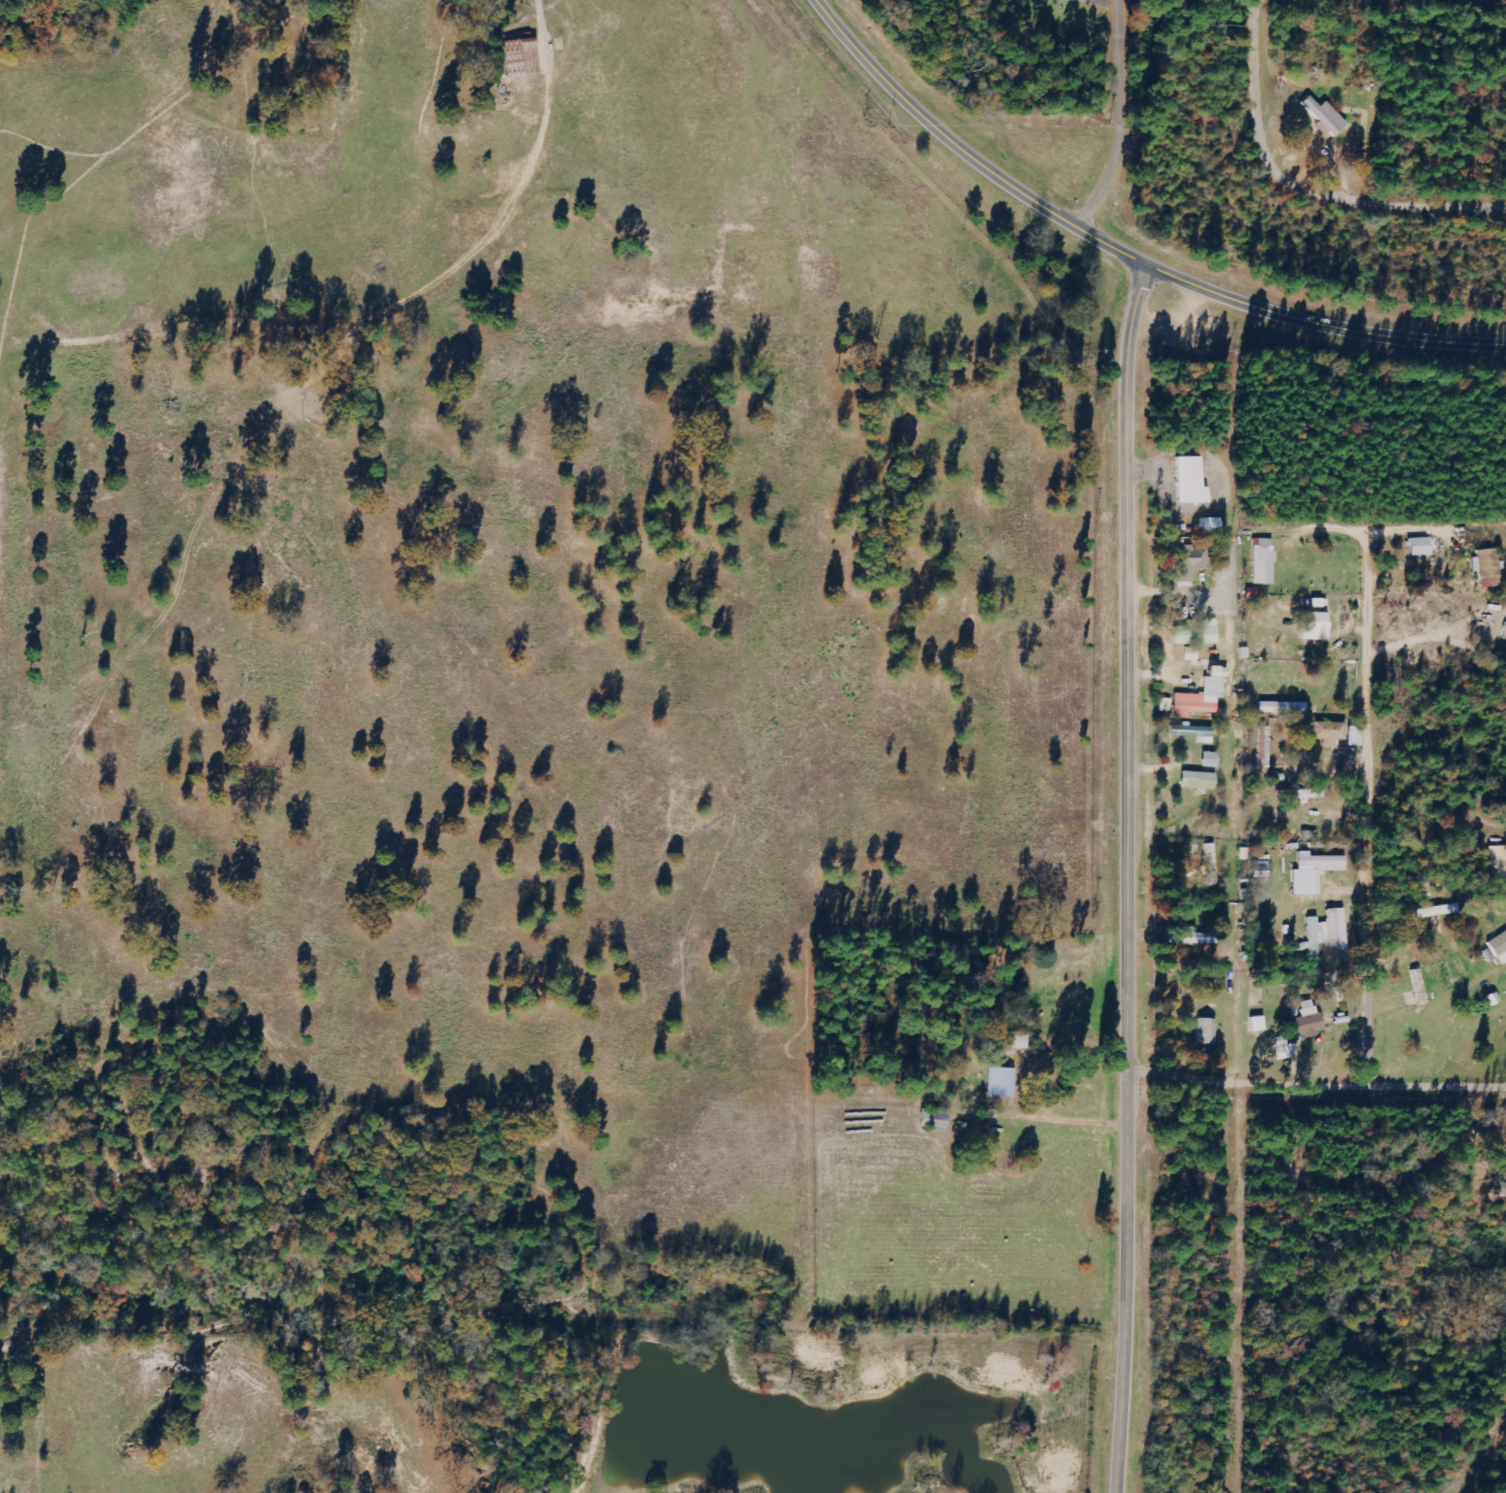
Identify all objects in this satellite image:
building: (1064, 0)
building: (521, 58)
building: (1324, 116)
road: (1122, 121)
road: (1300, 190)
road: (1120, 254)
building: (1189, 482)
building: (1210, 526)
road: (1313, 536)
building: (1420, 547)
building: (1262, 563)
building: (1187, 564)
building: (1488, 568)
building: (1314, 627)
building: (1196, 634)
building: (1201, 696)
building: (1282, 708)
building: (1191, 732)
building: (1328, 733)
building: (1354, 737)
road: (1366, 746)
building: (1210, 760)
building: (1197, 781)
building: (1308, 795)
building: (1497, 861)
building: (1321, 862)
building: (1210, 864)
road: (1127, 879)
building: (1312, 890)
building: (1322, 928)
building: (1190, 937)
building: (1498, 947)
building: (1306, 1019)
building: (1206, 1031)
building: (1017, 1039)
building: (1284, 1049)
building: (1000, 1083)
road: (1314, 1088)
building: (938, 1120)
building: (1504, 1190)
road: (1484, 1448)

